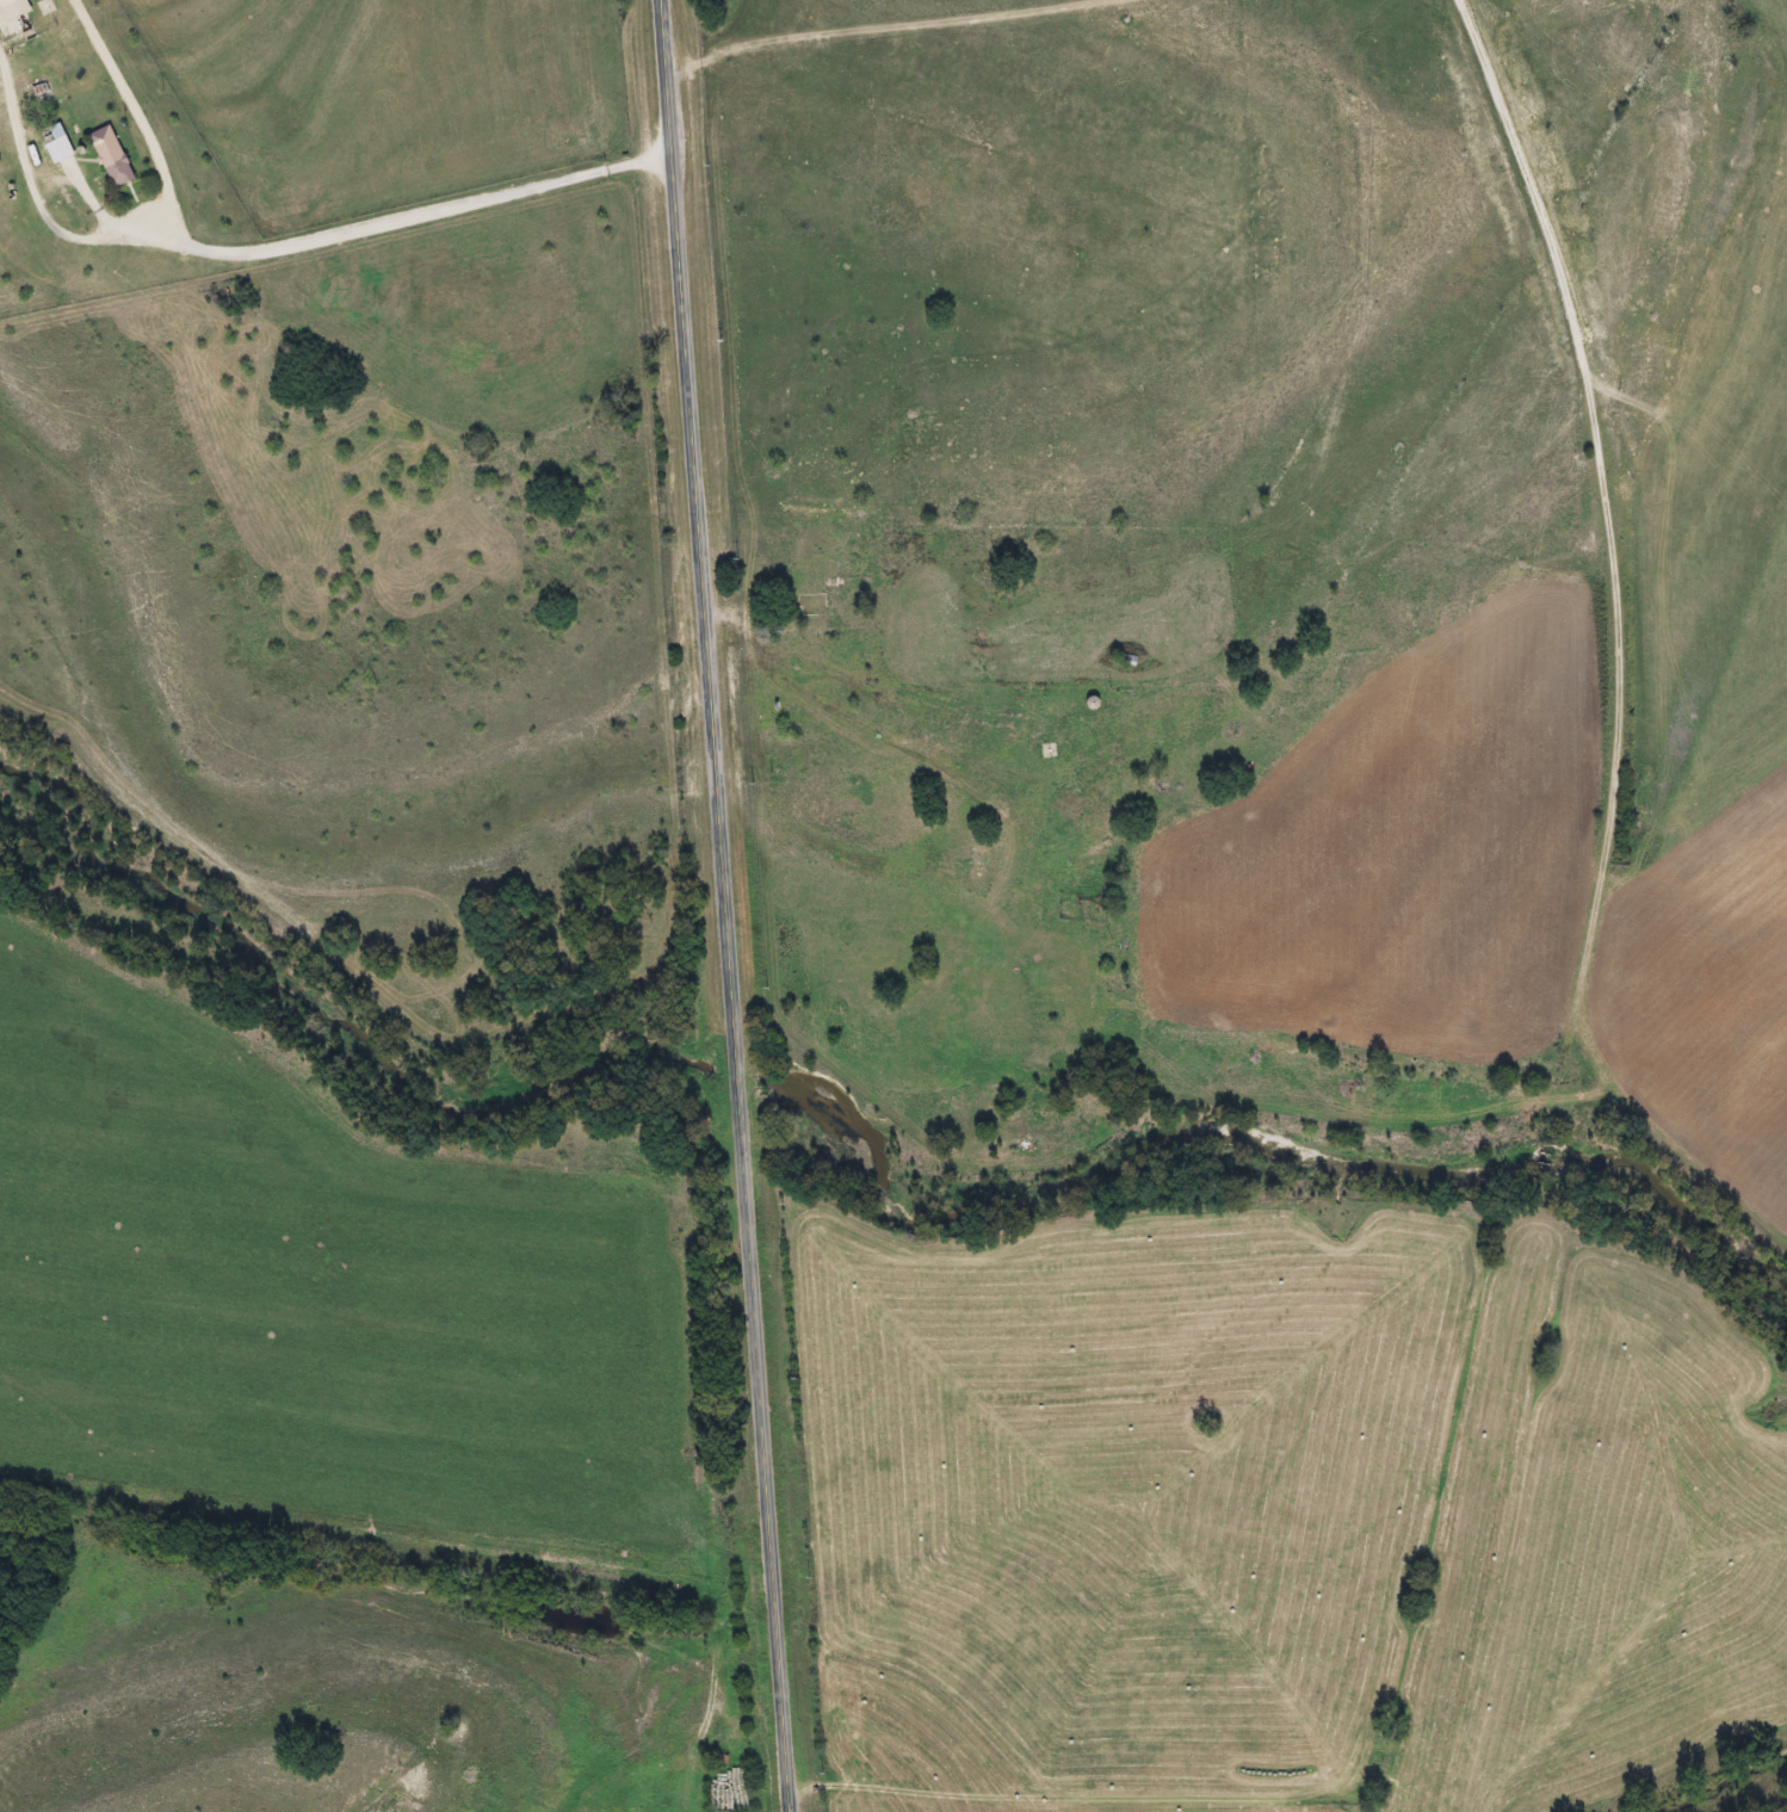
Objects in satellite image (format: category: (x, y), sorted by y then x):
building: (5, 2)
building: (58, 148)
building: (111, 156)
road: (276, 249)
road: (933, 728)
railway: (1601, 902)
road: (730, 905)

